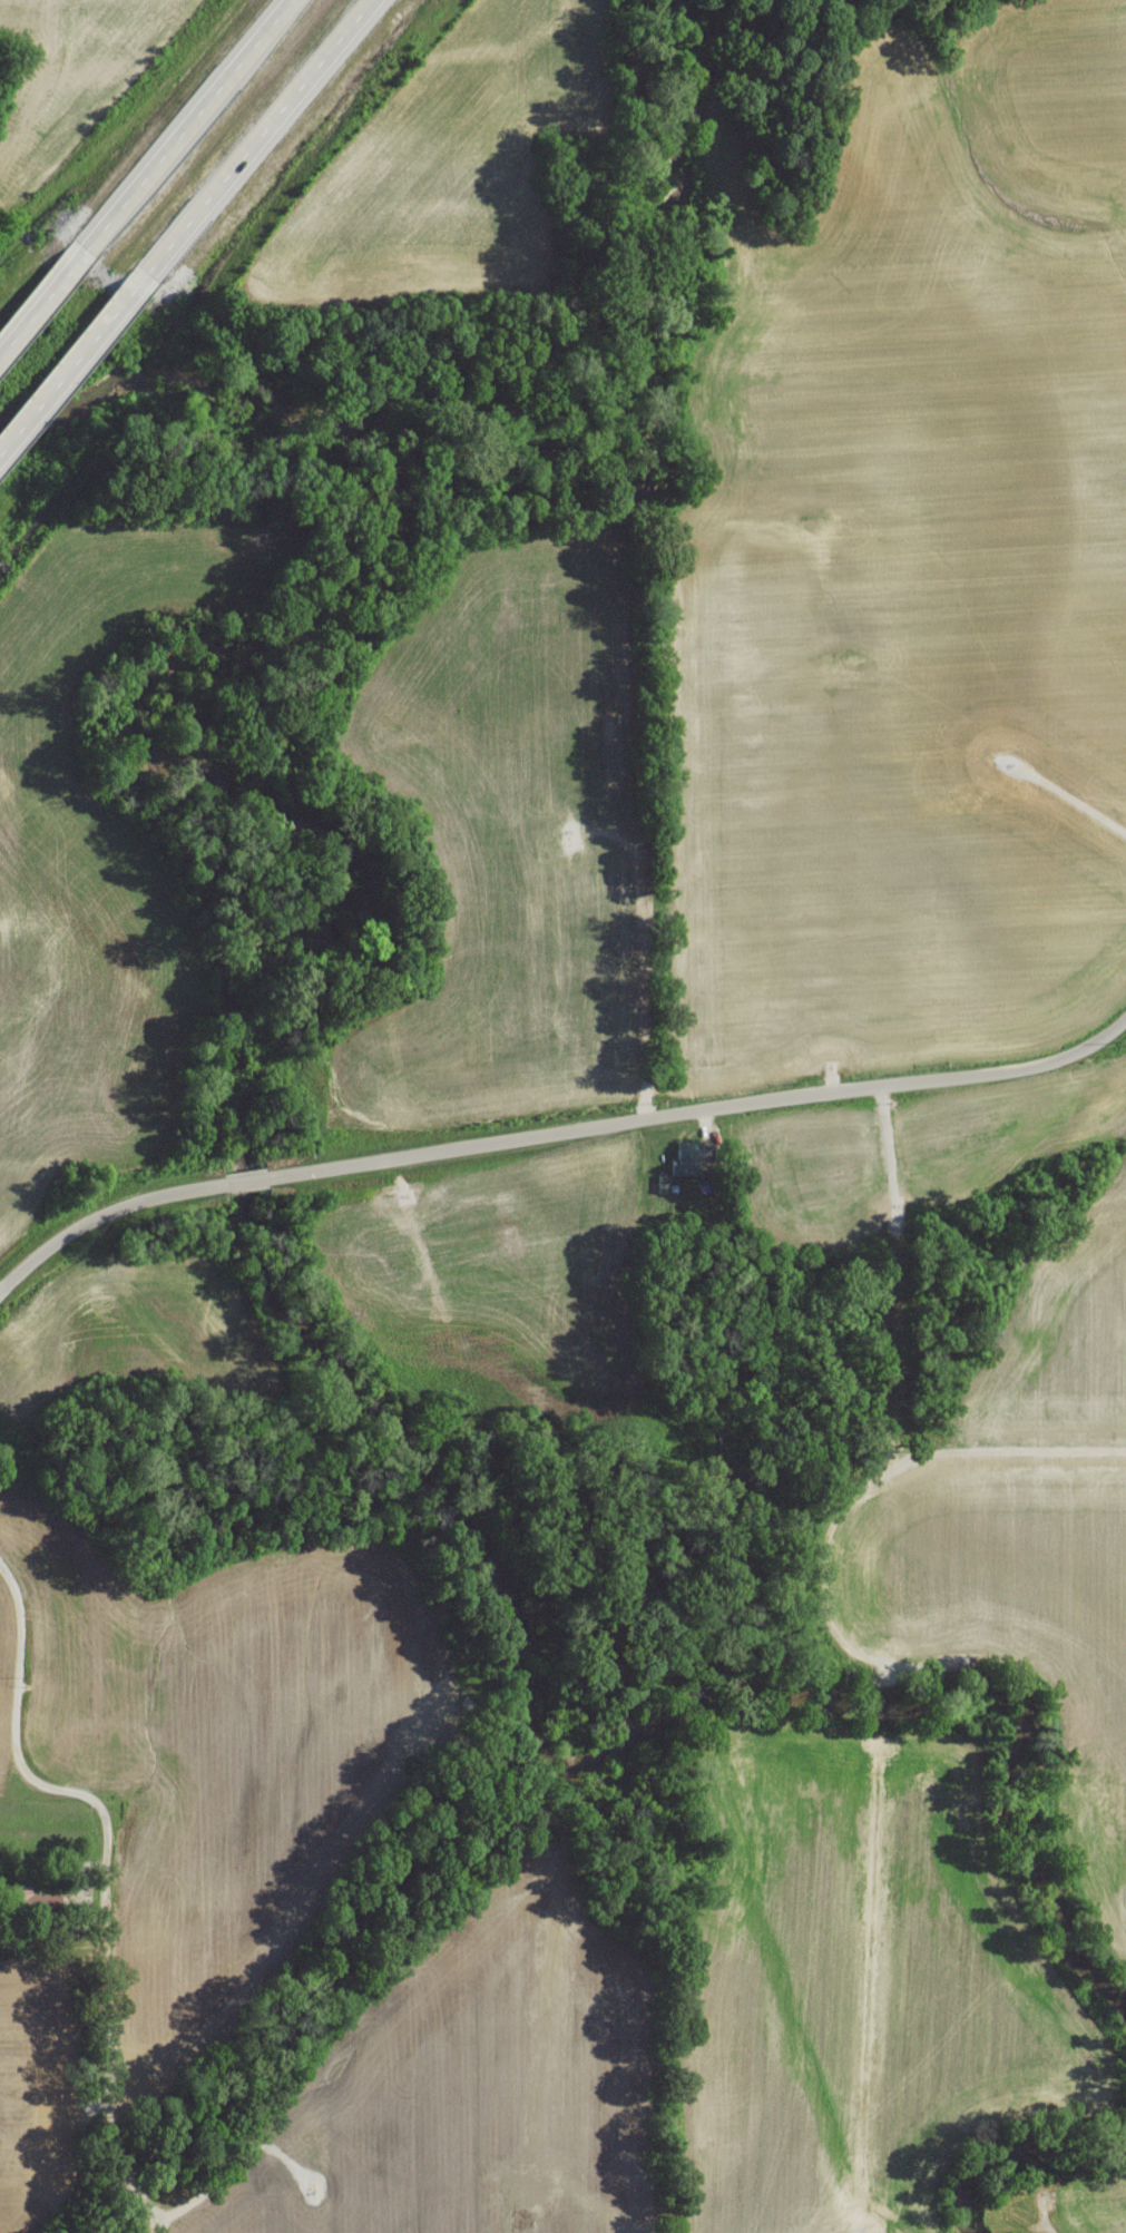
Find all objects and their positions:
road: (188, 121)
road: (264, 127)
road: (43, 297)
road: (79, 353)
petroleum well: (1006, 767)
road: (555, 1135)
building: (685, 1165)
petroleum well: (965, 1671)
road: (11, 1751)
road: (72, 1937)
petroleum well: (310, 2192)

